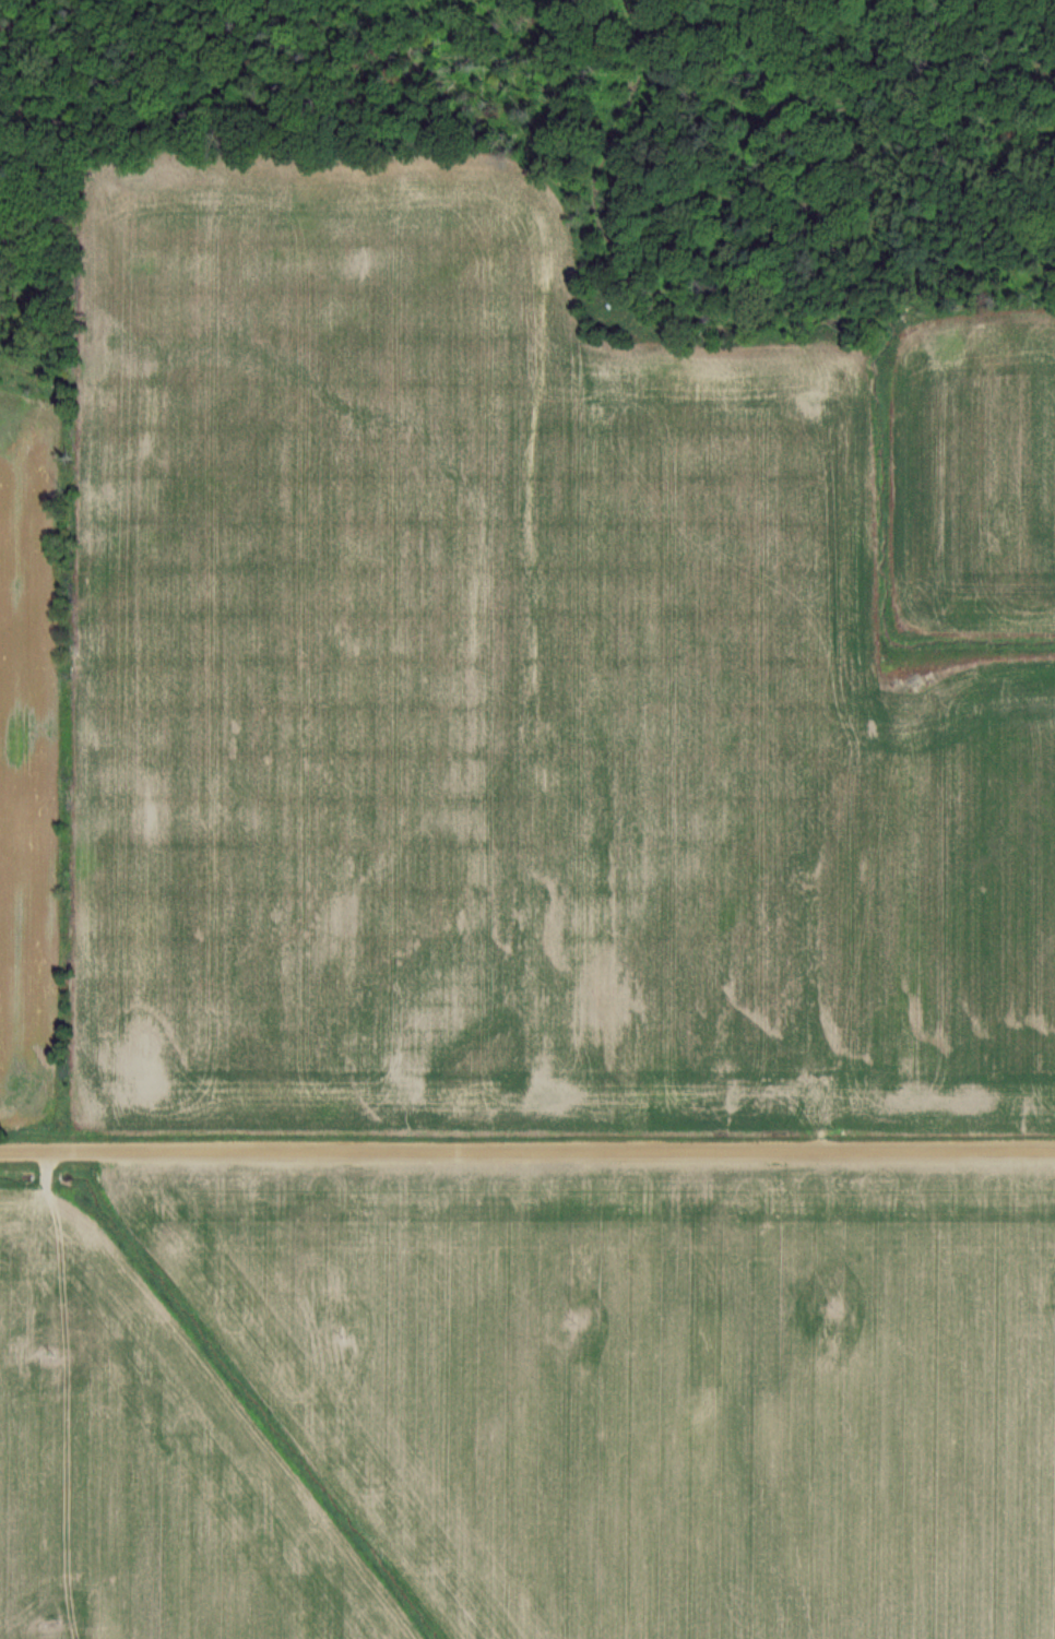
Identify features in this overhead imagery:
road: (526, 1153)
road: (55, 1215)

